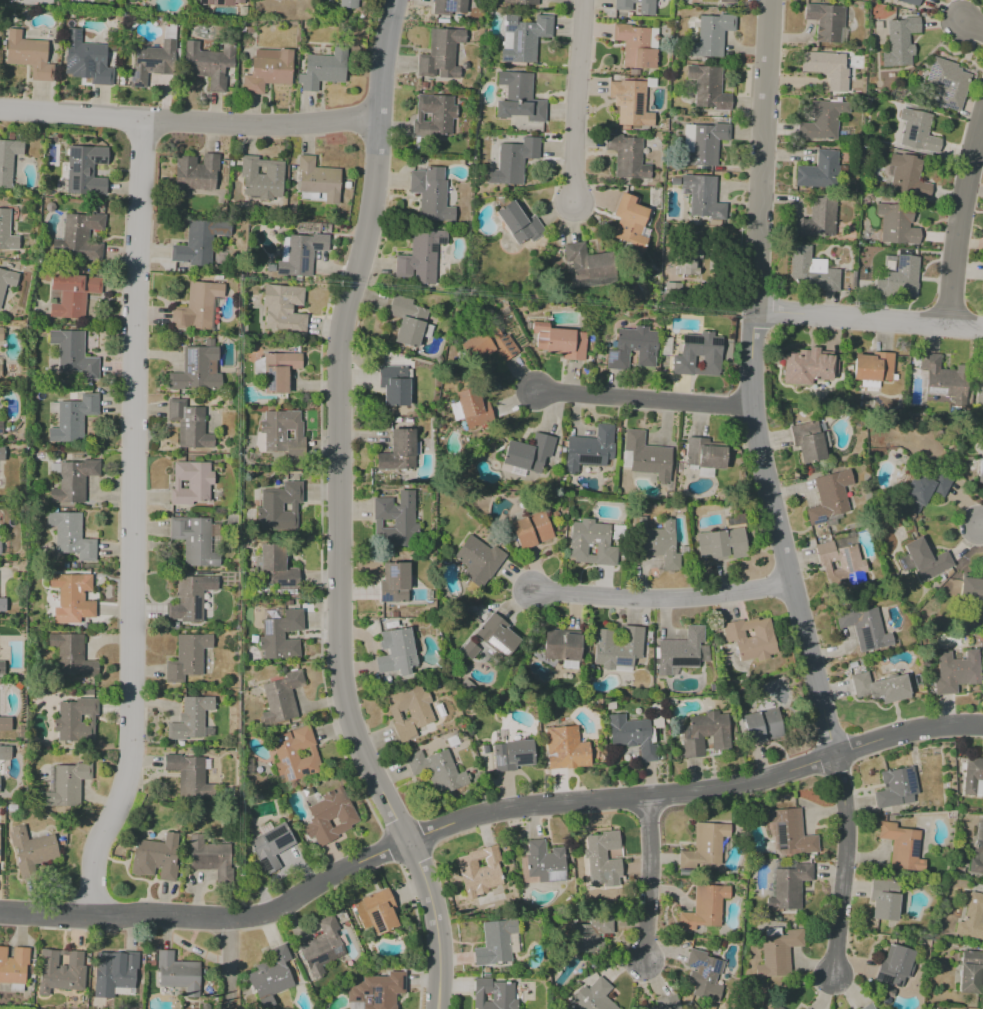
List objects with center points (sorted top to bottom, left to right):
building: (137, 0)
building: (717, 0)
building: (289, 1)
building: (728, 1)
building: (219, 2)
building: (521, 2)
building: (905, 2)
building: (349, 3)
building: (450, 8)
building: (624, 8)
building: (825, 22)
road: (974, 26)
building: (711, 35)
building: (524, 38)
building: (900, 41)
building: (636, 47)
building: (440, 53)
building: (28, 55)
building: (154, 58)
building: (88, 59)
rooftop solar panel: (147, 63)
building: (209, 64)
building: (827, 68)
building: (322, 69)
building: (268, 70)
rooftop solar panel: (931, 72)
rooftop solar panel: (134, 76)
rooftop solar panel: (935, 81)
building: (945, 82)
rooftop solar panel: (941, 84)
rooftop solar panel: (950, 85)
rooftop solar panel: (137, 86)
building: (708, 88)
rooftop solar panel: (946, 95)
building: (518, 98)
rooftop solar panel: (636, 99)
road: (579, 103)
building: (628, 105)
rooftop solar panel: (949, 105)
building: (433, 115)
building: (824, 121)
road: (189, 123)
building: (914, 128)
building: (705, 145)
rooftop solar panel: (51, 154)
building: (627, 157)
building: (513, 160)
building: (8, 161)
building: (85, 170)
building: (819, 171)
building: (905, 172)
building: (196, 175)
building: (261, 181)
building: (319, 181)
rooftop solar panel: (73, 183)
building: (431, 193)
building: (699, 197)
building: (890, 209)
building: (816, 219)
building: (519, 223)
building: (628, 223)
building: (6, 231)
road: (966, 232)
building: (82, 236)
building: (200, 241)
building: (799, 251)
rooftop solar panel: (304, 252)
building: (301, 255)
building: (679, 255)
building: (419, 257)
building: (586, 263)
rooftop solar panel: (304, 266)
building: (907, 276)
building: (825, 281)
building: (6, 282)
building: (71, 295)
building: (196, 307)
building: (281, 307)
road: (872, 318)
building: (407, 320)
building: (2, 334)
rooftop solar panel: (693, 341)
building: (560, 342)
rooftop solar panel: (717, 344)
rooftop solar panel: (504, 345)
building: (494, 348)
building: (633, 348)
rooftop solar panel: (506, 350)
rooftop solar panel: (509, 352)
building: (698, 354)
building: (73, 355)
rooftop solar panel: (610, 355)
rooftop solar panel: (192, 356)
building: (1, 367)
building: (873, 367)
building: (806, 368)
rooftop solar panel: (188, 369)
building: (279, 370)
building: (195, 371)
building: (934, 374)
road: (754, 380)
rooftop solar panel: (271, 381)
building: (981, 387)
building: (396, 393)
road: (648, 401)
building: (472, 408)
building: (73, 418)
building: (191, 423)
building: (1, 428)
building: (279, 434)
building: (590, 449)
building: (809, 449)
building: (397, 450)
building: (528, 452)
building: (2, 454)
building: (705, 454)
building: (645, 457)
rooftop solar panel: (586, 461)
building: (980, 474)
building: (73, 481)
building: (191, 484)
building: (921, 489)
building: (830, 497)
building: (279, 506)
road: (338, 511)
building: (396, 519)
rooftop solar panel: (819, 520)
road: (131, 522)
road: (980, 525)
building: (530, 530)
building: (70, 536)
building: (194, 541)
building: (657, 542)
building: (722, 542)
building: (591, 543)
building: (1, 548)
rooftop solar panel: (843, 558)
building: (840, 560)
building: (921, 560)
building: (477, 561)
building: (275, 567)
rooftop solar panel: (387, 573)
building: (394, 583)
rooftop solar panel: (284, 586)
building: (971, 589)
building: (71, 596)
building: (187, 598)
rooftop solar panel: (382, 598)
road: (667, 599)
building: (3, 604)
rooftop solar panel: (196, 609)
rooftop solar panel: (269, 627)
building: (865, 628)
building: (496, 635)
building: (283, 636)
building: (749, 636)
rooftop solar panel: (865, 638)
rooftop solar panel: (493, 643)
building: (562, 648)
building: (617, 648)
building: (469, 650)
building: (683, 651)
building: (395, 653)
building: (187, 656)
building: (70, 658)
rooftop solar panel: (621, 662)
building: (3, 668)
building: (956, 670)
building: (880, 689)
building: (281, 698)
building: (409, 711)
building: (190, 719)
building: (76, 720)
building: (6, 723)
building: (761, 723)
building: (713, 730)
building: (631, 736)
building: (566, 748)
building: (692, 748)
building: (6, 754)
building: (295, 754)
building: (512, 756)
rooftop solar panel: (519, 757)
building: (415, 762)
building: (187, 768)
rooftop solar panel: (288, 768)
rooftop solar panel: (304, 771)
building: (444, 773)
building: (972, 778)
rooftop solar panel: (909, 779)
building: (68, 783)
building: (896, 788)
road: (484, 812)
building: (329, 817)
building: (790, 832)
rooftop solar panel: (271, 833)
rooftop solar panel: (279, 840)
building: (271, 846)
building: (901, 847)
building: (708, 848)
rooftop solar panel: (912, 848)
building: (34, 852)
building: (977, 853)
building: (208, 854)
building: (157, 857)
building: (601, 860)
building: (542, 861)
road: (843, 864)
building: (480, 870)
road: (648, 878)
building: (790, 886)
building: (885, 900)
building: (704, 908)
building: (380, 912)
building: (971, 916)
rooftop solar panel: (376, 921)
building: (593, 936)
building: (498, 943)
building: (323, 944)
rooftop solar panel: (337, 950)
building: (778, 952)
rooftop solar panel: (318, 959)
rooftop solar panel: (694, 963)
building: (14, 966)
building: (896, 966)
building: (61, 972)
building: (118, 972)
rooftop solar panel: (702, 972)
building: (177, 973)
building: (275, 973)
building: (970, 973)
building: (704, 975)
rooftop solar panel: (401, 982)
building: (376, 991)
rooftop solar panel: (364, 992)
building: (493, 994)
building: (594, 995)
rooftop solar panel: (377, 996)
rooftop solar panel: (355, 1000)
building: (668, 1003)
building: (867, 1006)
building: (775, 1007)
building: (779, 1007)
building: (805, 1008)
building: (808, 1008)

